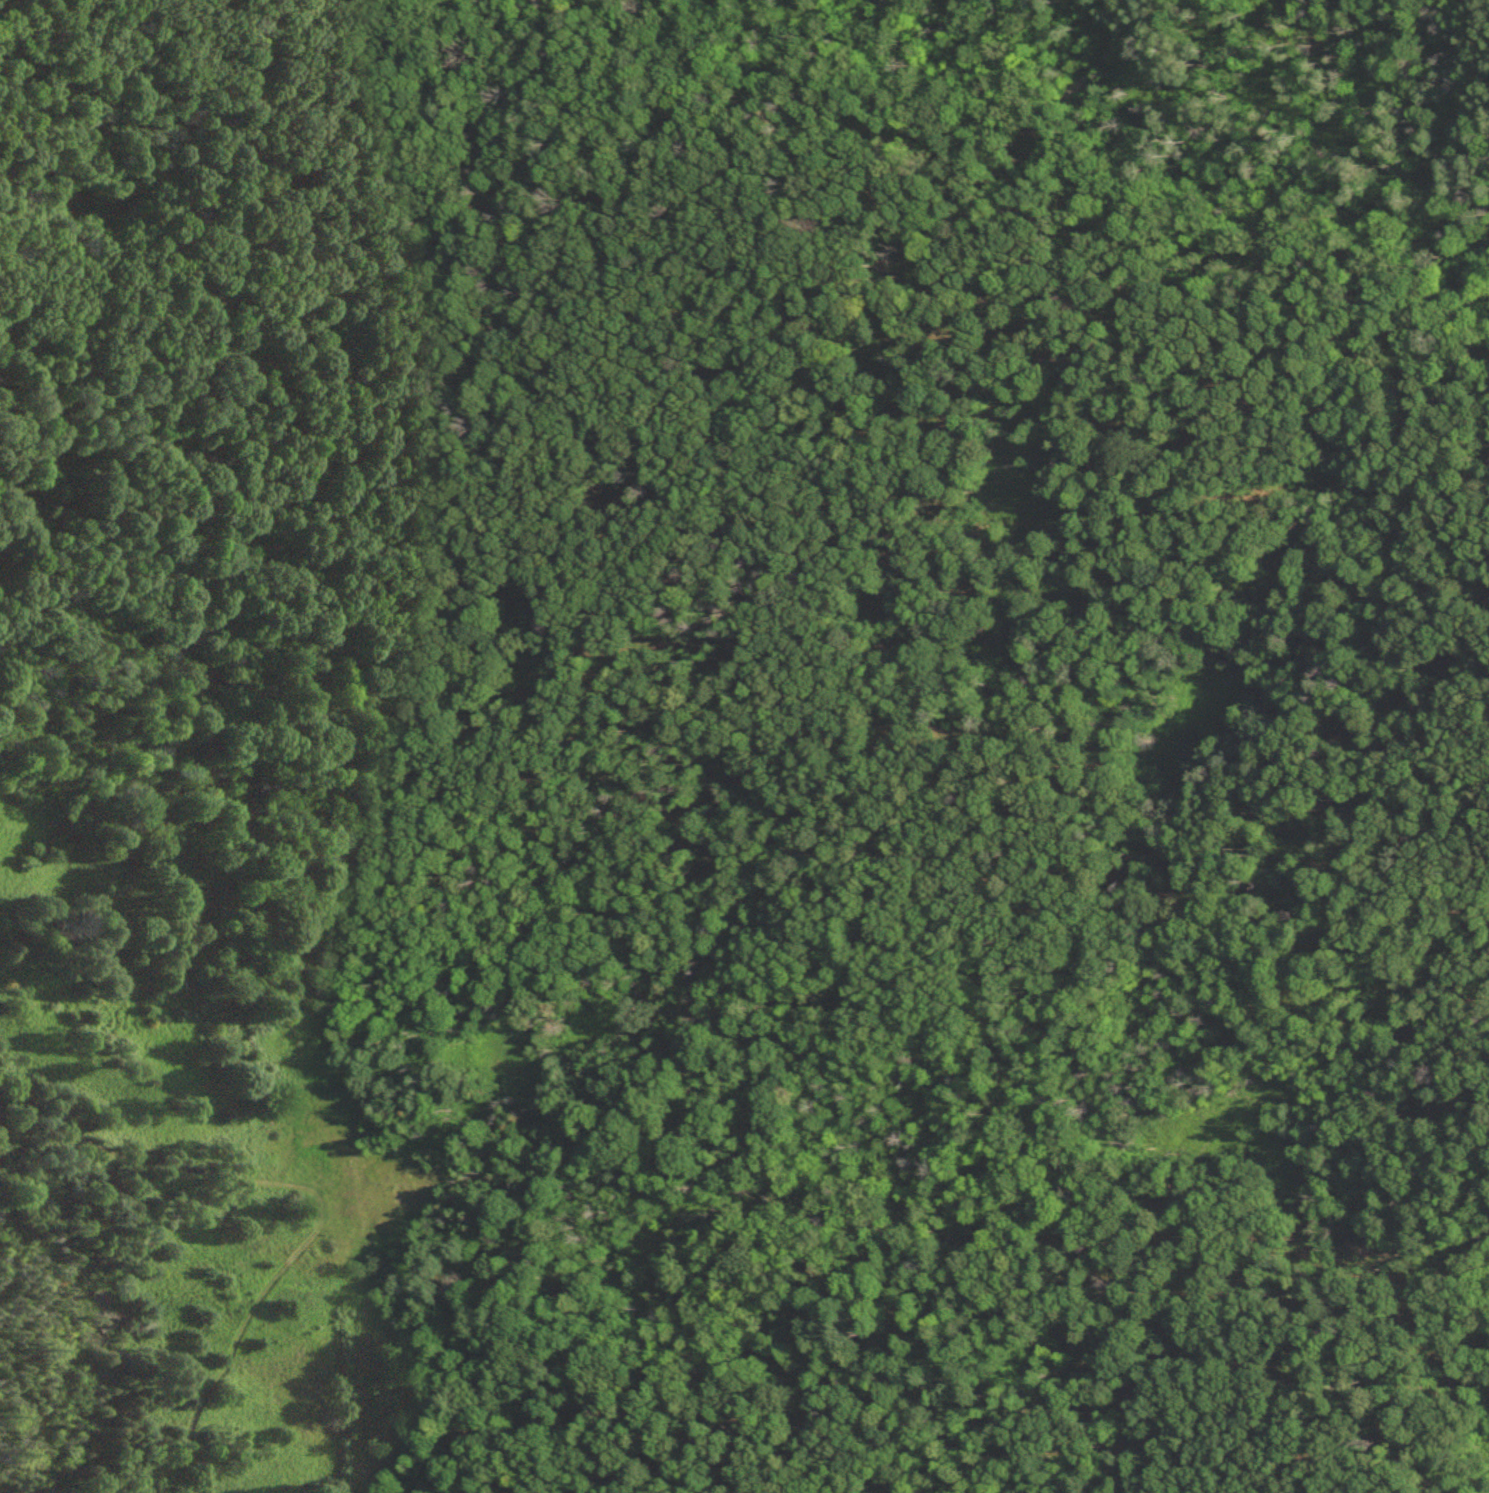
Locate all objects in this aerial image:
road: (148, 1159)
road: (236, 1330)

